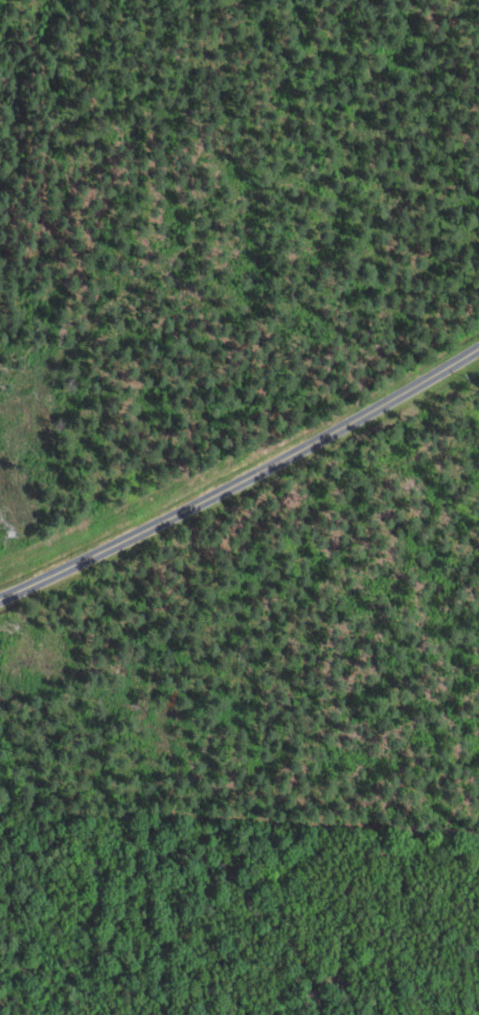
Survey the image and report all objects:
road: (242, 477)

